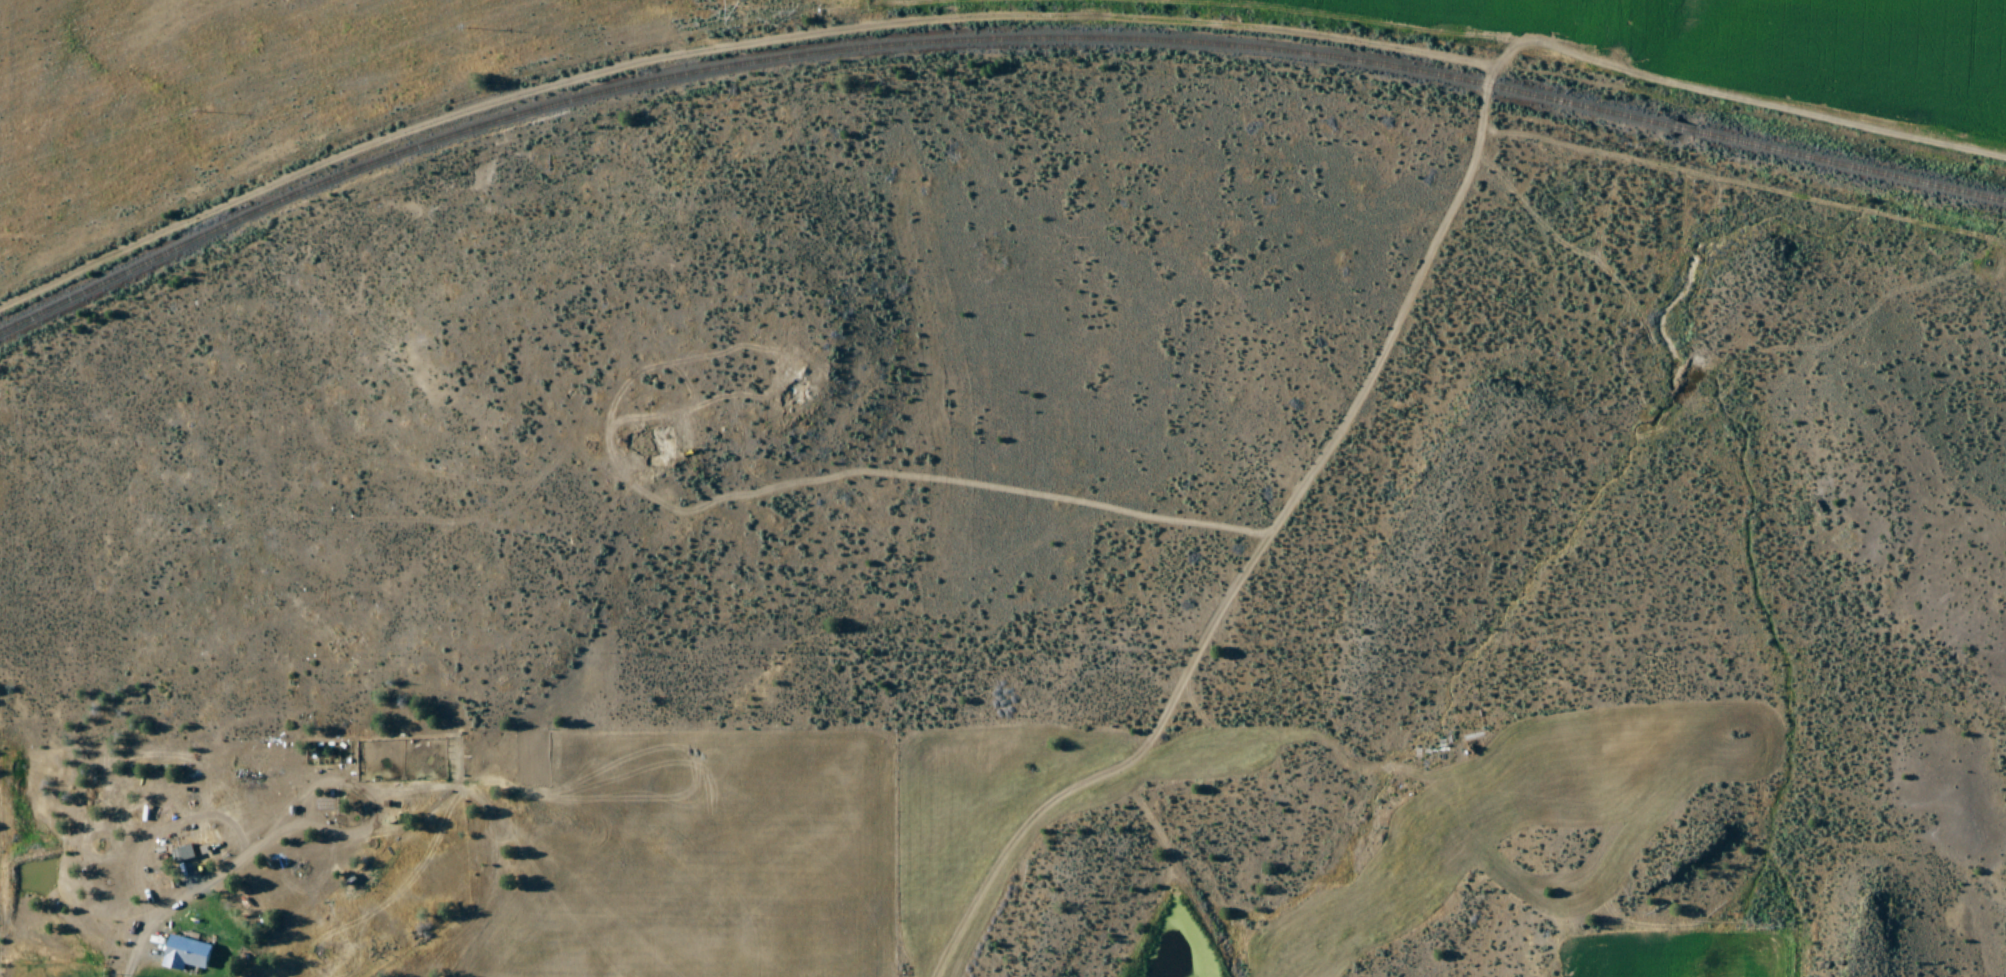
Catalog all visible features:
railway: (815, 57)
railway: (1686, 129)
railway: (1852, 168)
road: (1286, 516)
building: (181, 854)
building: (184, 955)

